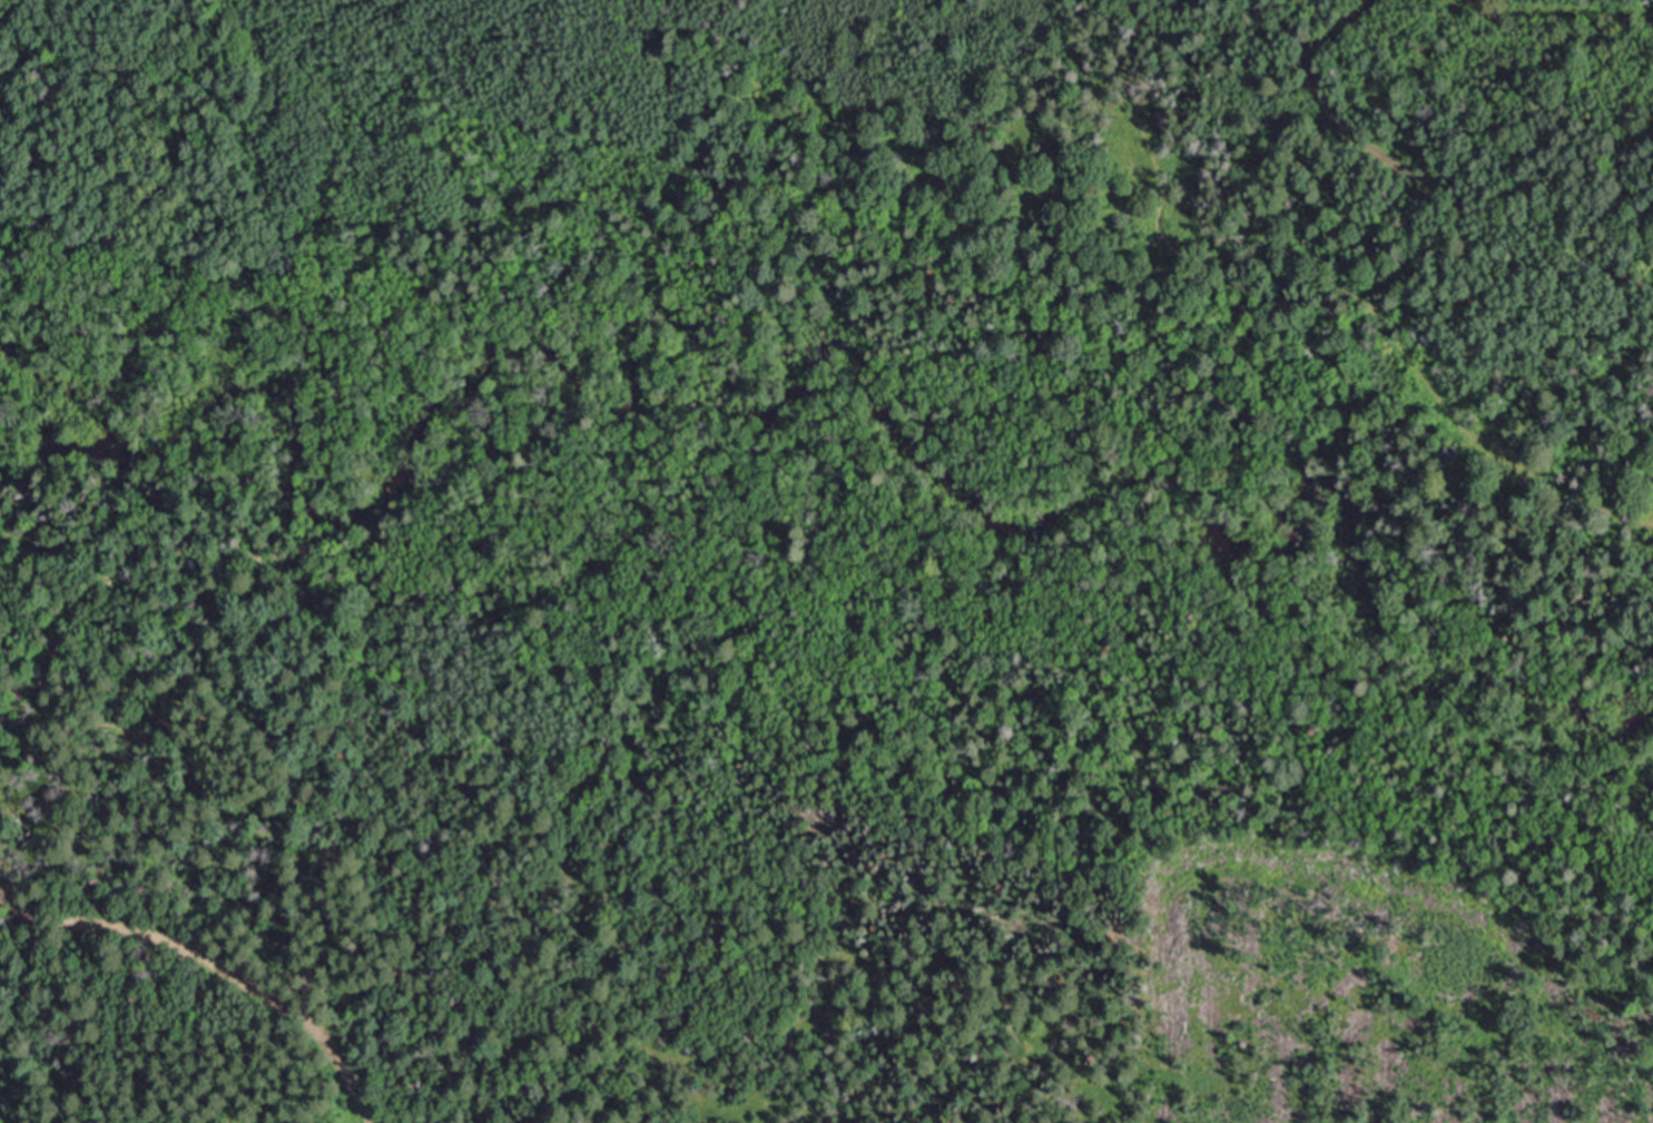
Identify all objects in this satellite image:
road: (215, 963)

